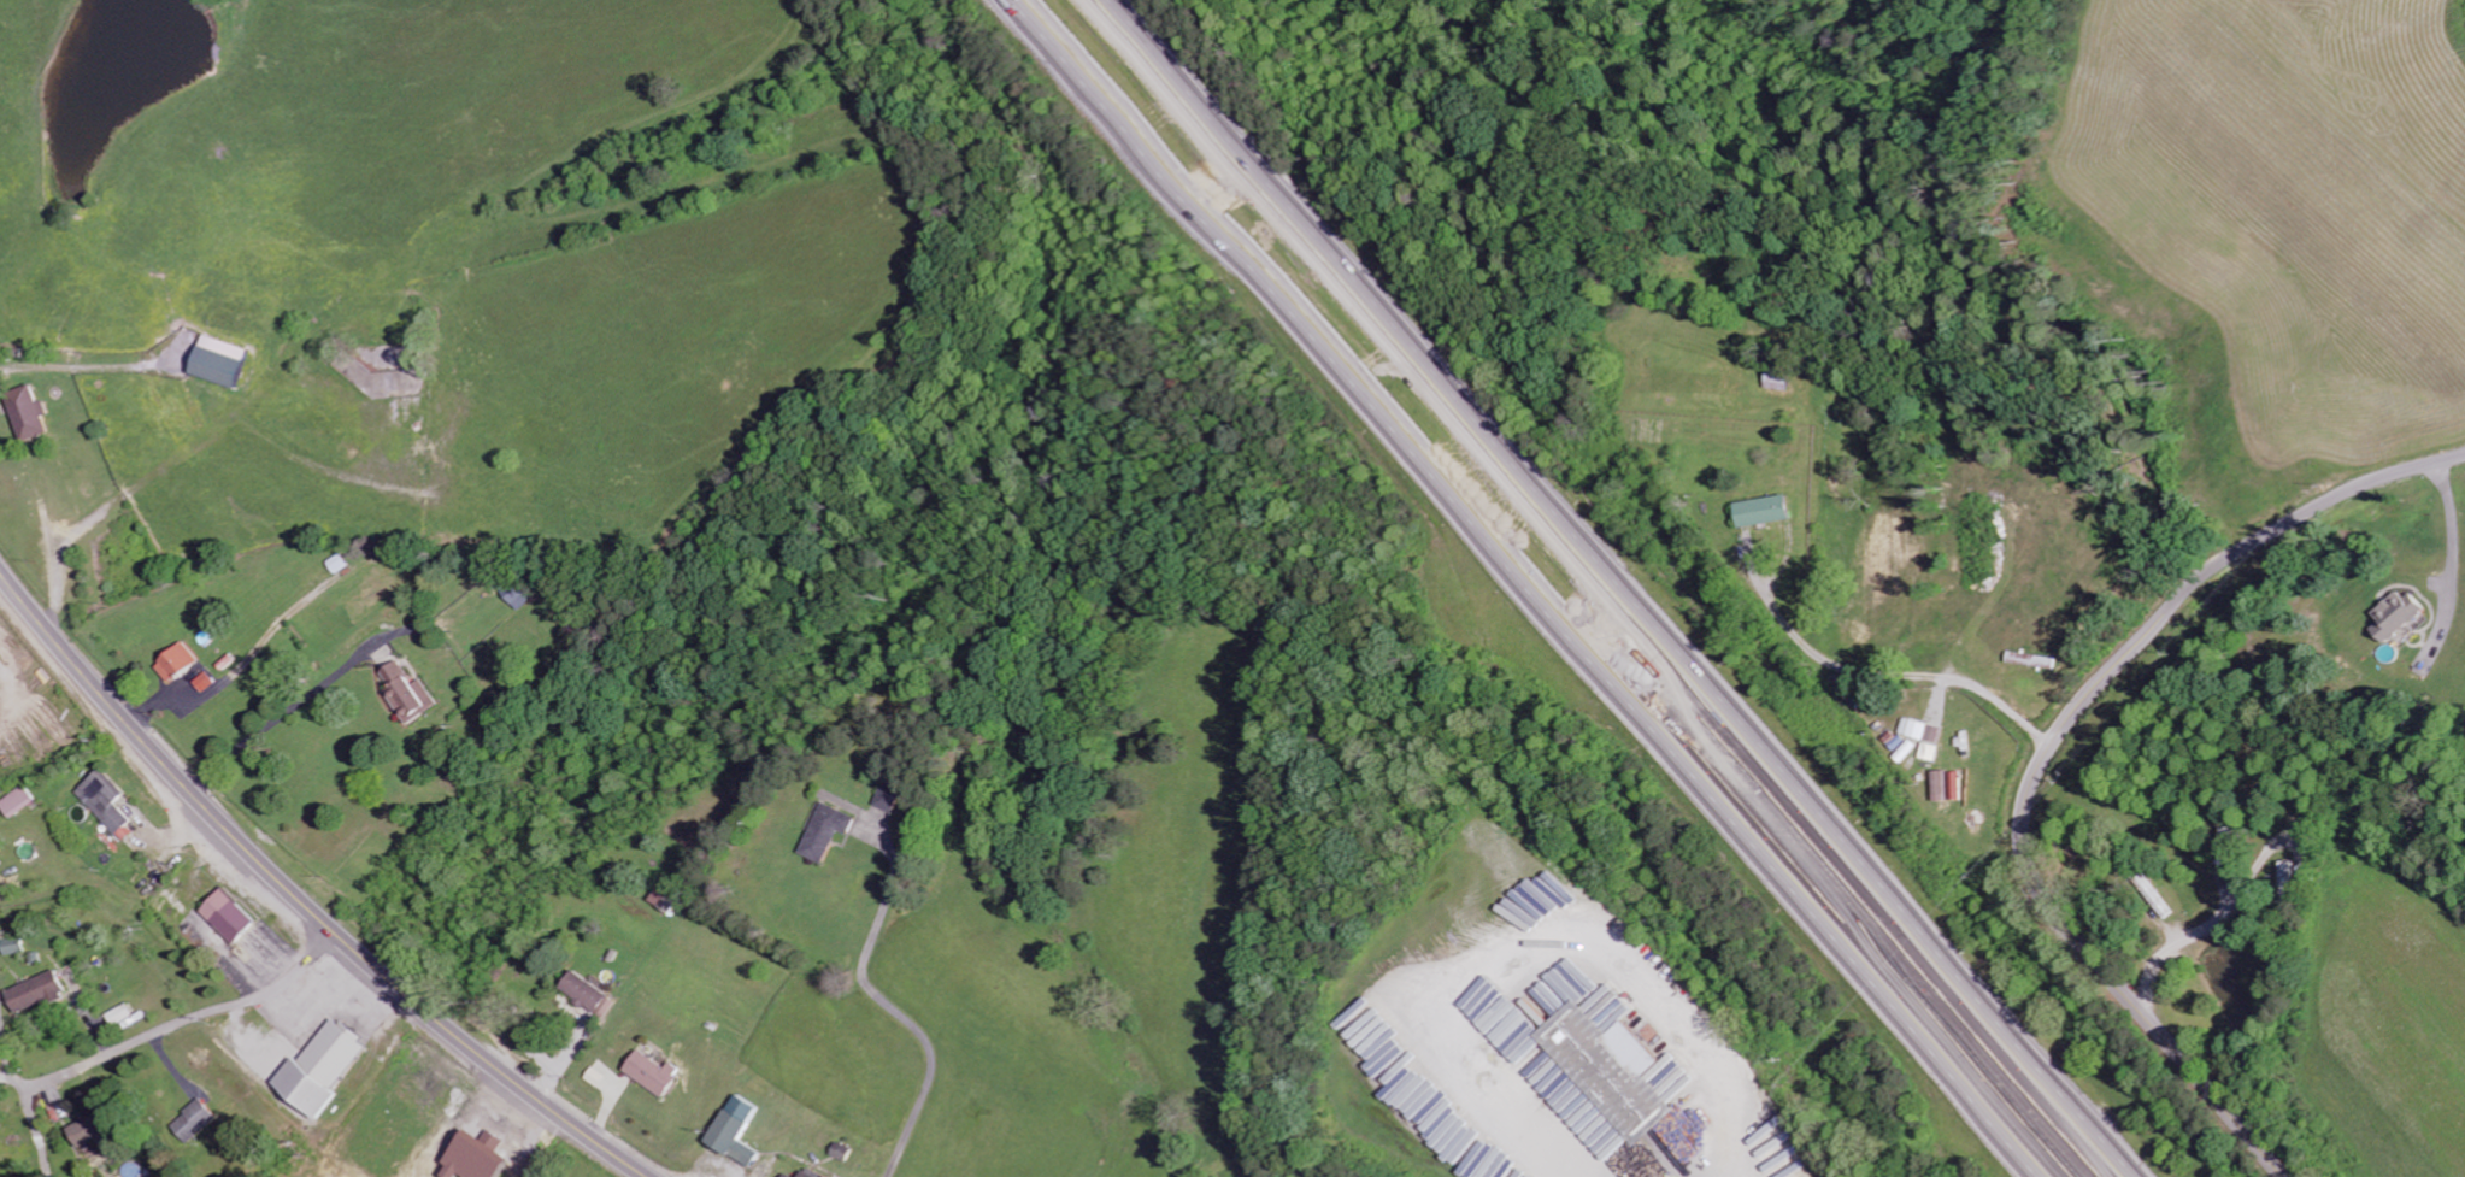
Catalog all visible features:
building: (217, 363)
building: (27, 412)
building: (1759, 510)
road: (2258, 541)
building: (336, 564)
road: (1541, 588)
road: (1612, 588)
building: (2393, 614)
building: (173, 660)
building: (2031, 660)
building: (204, 681)
building: (405, 692)
building: (1913, 729)
building: (1932, 734)
building: (1905, 751)
building: (1929, 751)
road: (2045, 764)
building: (1939, 784)
building: (887, 796)
building: (102, 800)
building: (18, 802)
building: (823, 831)
road: (300, 898)
building: (225, 916)
building: (10, 944)
road: (273, 990)
building: (31, 993)
building: (589, 994)
building: (1605, 1007)
building: (116, 1014)
road: (2145, 1017)
building: (316, 1070)
road: (70, 1071)
building: (652, 1072)
building: (1605, 1079)
building: (189, 1122)
building: (733, 1131)
building: (78, 1132)
building: (472, 1159)
building: (807, 1173)
building: (786, 1175)

